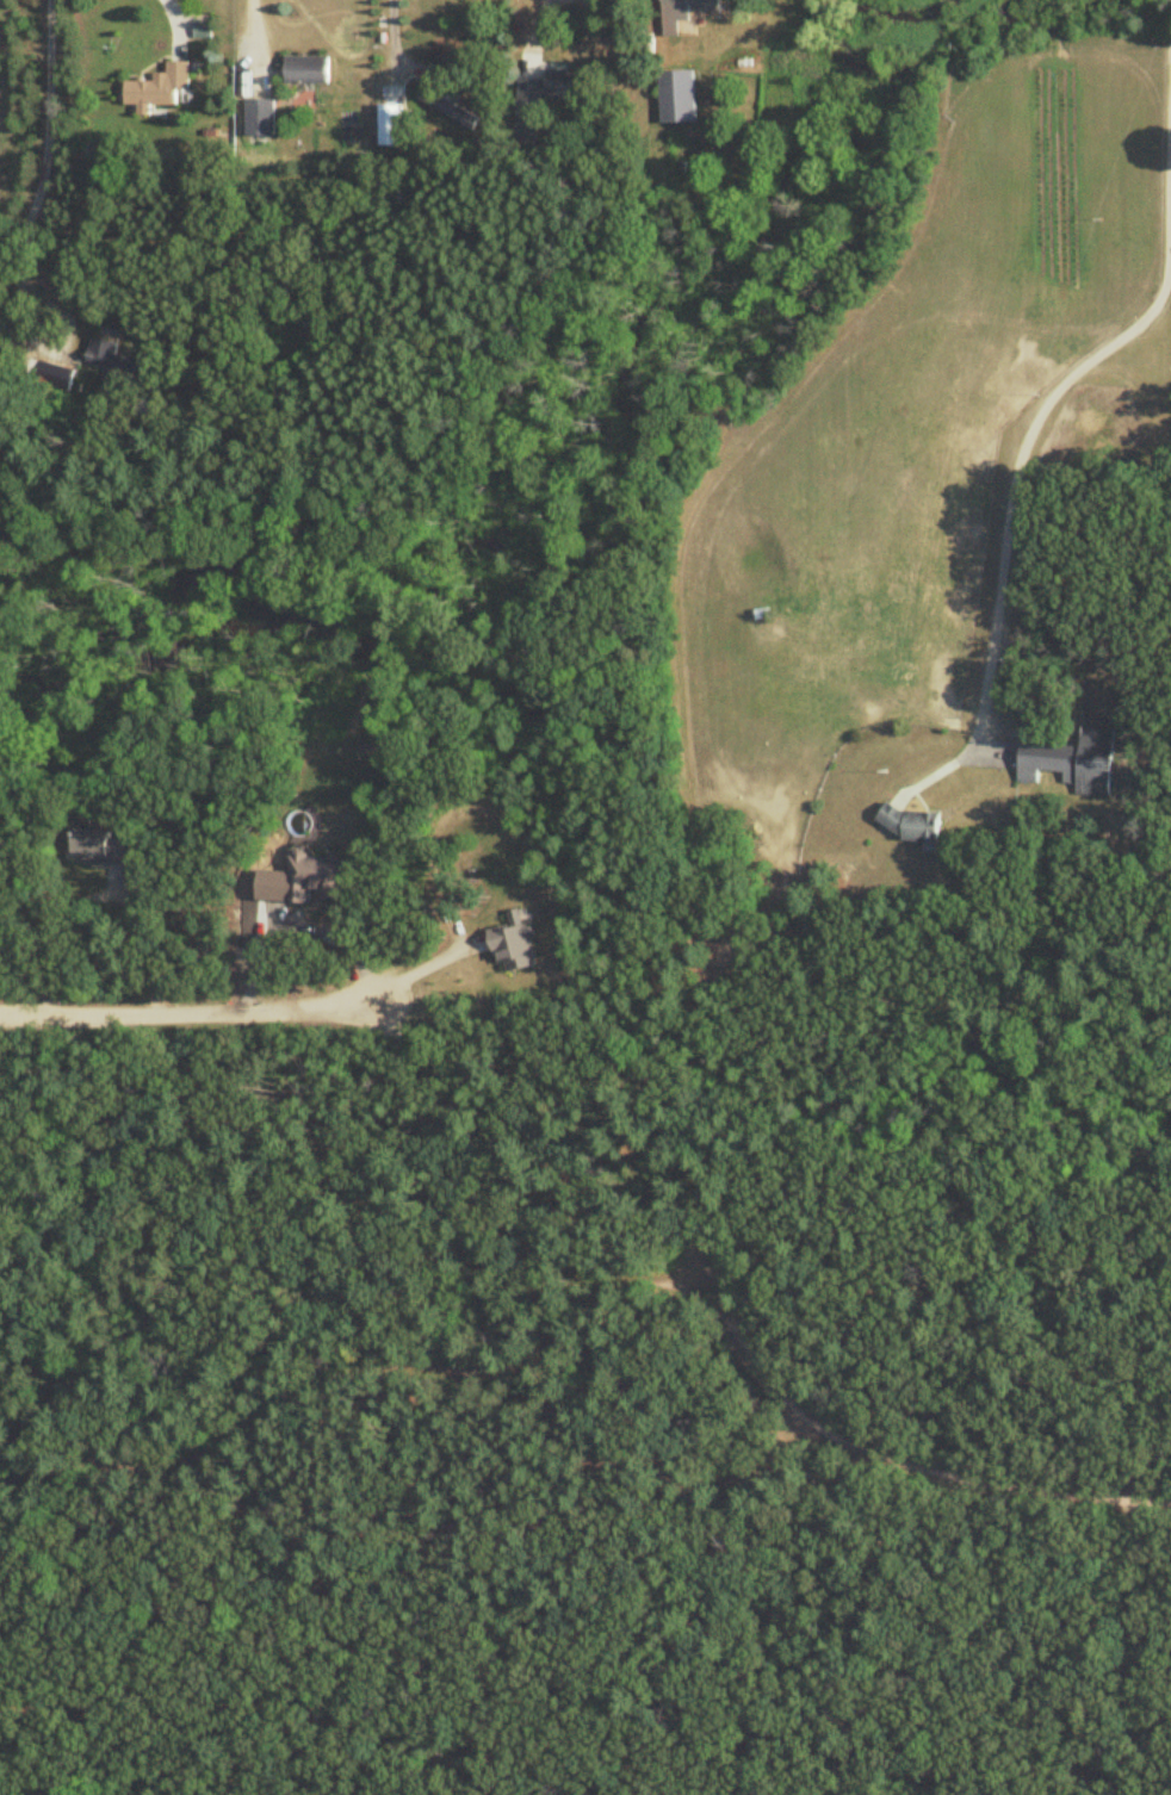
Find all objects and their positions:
building: (684, 14)
road: (256, 31)
road: (388, 33)
road: (531, 35)
building: (306, 69)
building: (159, 88)
building: (549, 89)
building: (679, 99)
building: (259, 117)
building: (466, 120)
building: (390, 125)
road: (42, 163)
building: (112, 359)
road: (1011, 511)
building: (1072, 762)
building: (912, 824)
building: (100, 847)
building: (317, 876)
road: (228, 919)
road: (419, 965)
road: (185, 1006)
road: (600, 1297)

